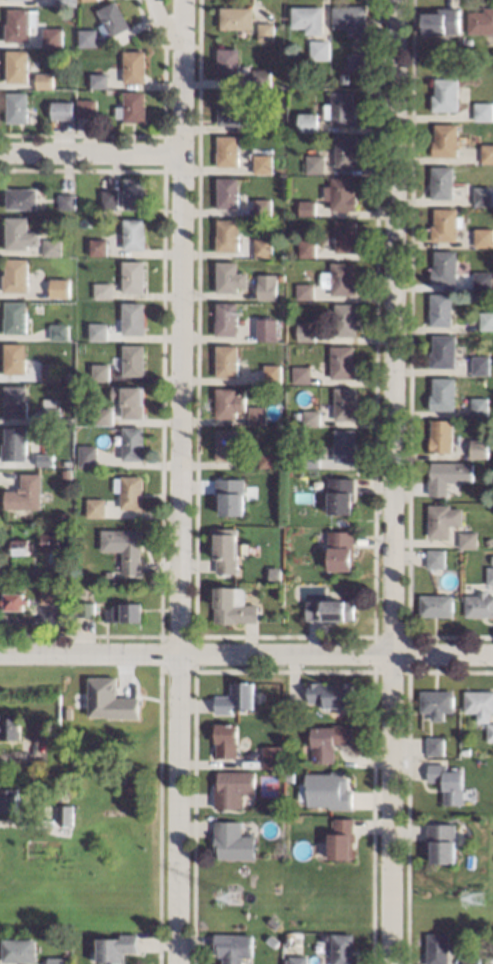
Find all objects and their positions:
building: (25, 0)
building: (85, 0)
building: (66, 2)
building: (236, 17)
building: (307, 18)
building: (113, 19)
building: (351, 19)
building: (442, 20)
building: (480, 21)
road: (161, 22)
building: (19, 23)
building: (266, 31)
building: (87, 36)
building: (52, 37)
building: (460, 40)
building: (319, 49)
building: (355, 61)
building: (227, 63)
building: (17, 66)
building: (134, 66)
building: (261, 76)
building: (343, 78)
building: (44, 80)
building: (99, 80)
building: (445, 94)
building: (16, 106)
building: (132, 106)
building: (87, 107)
building: (341, 108)
building: (62, 109)
building: (228, 109)
building: (483, 110)
building: (266, 120)
building: (307, 121)
building: (445, 139)
building: (227, 150)
building: (346, 151)
road: (90, 152)
building: (487, 153)
building: (262, 163)
building: (315, 163)
building: (441, 182)
building: (133, 193)
building: (227, 193)
building: (341, 193)
building: (483, 195)
building: (20, 197)
building: (109, 198)
building: (65, 200)
building: (261, 206)
building: (307, 206)
building: (446, 224)
building: (19, 232)
building: (226, 233)
building: (134, 234)
building: (346, 235)
building: (484, 236)
building: (97, 245)
building: (51, 246)
building: (262, 246)
building: (307, 247)
building: (445, 266)
building: (14, 274)
building: (132, 275)
building: (229, 275)
building: (280, 276)
building: (340, 279)
building: (482, 279)
building: (50, 288)
building: (103, 289)
building: (268, 289)
building: (304, 291)
building: (475, 296)
building: (441, 309)
building: (15, 317)
building: (132, 318)
building: (225, 318)
building: (345, 318)
building: (486, 320)
building: (267, 329)
building: (97, 330)
building: (306, 330)
building: (58, 331)
building: (443, 350)
building: (14, 357)
building: (67, 359)
building: (133, 359)
building: (226, 359)
building: (342, 362)
building: (481, 364)
building: (49, 371)
building: (99, 371)
building: (272, 373)
building: (301, 374)
building: (443, 394)
building: (14, 401)
building: (128, 401)
building: (228, 402)
building: (345, 402)
building: (480, 406)
building: (50, 410)
building: (257, 414)
building: (103, 415)
building: (297, 415)
building: (311, 416)
building: (90, 418)
building: (441, 435)
building: (132, 442)
building: (13, 444)
building: (345, 444)
building: (225, 445)
building: (480, 447)
building: (87, 456)
building: (267, 458)
building: (310, 458)
building: (43, 459)
building: (297, 459)
building: (449, 475)
road: (384, 481)
road: (180, 482)
building: (128, 491)
building: (24, 492)
building: (230, 495)
building: (340, 495)
building: (95, 506)
building: (444, 519)
building: (469, 539)
building: (49, 541)
building: (21, 546)
building: (124, 546)
building: (226, 549)
building: (342, 550)
building: (467, 556)
building: (436, 558)
building: (490, 575)
building: (49, 594)
building: (13, 600)
building: (479, 604)
building: (435, 605)
building: (232, 606)
building: (84, 608)
building: (331, 609)
building: (123, 612)
road: (246, 655)
building: (332, 694)
building: (236, 697)
building: (108, 700)
building: (478, 701)
building: (437, 702)
building: (10, 727)
building: (38, 731)
building: (490, 731)
building: (54, 734)
building: (227, 739)
building: (329, 740)
building: (435, 745)
building: (466, 751)
building: (272, 757)
road: (20, 759)
building: (290, 776)
building: (448, 782)
building: (233, 788)
building: (327, 790)
building: (8, 799)
building: (96, 810)
building: (65, 811)
building: (88, 811)
building: (113, 811)
building: (341, 839)
building: (233, 841)
building: (441, 842)
building: (272, 922)
building: (272, 940)
building: (232, 946)
building: (114, 947)
building: (341, 948)
building: (436, 948)
building: (17, 949)
building: (297, 959)
building: (57, 960)
building: (470, 960)

